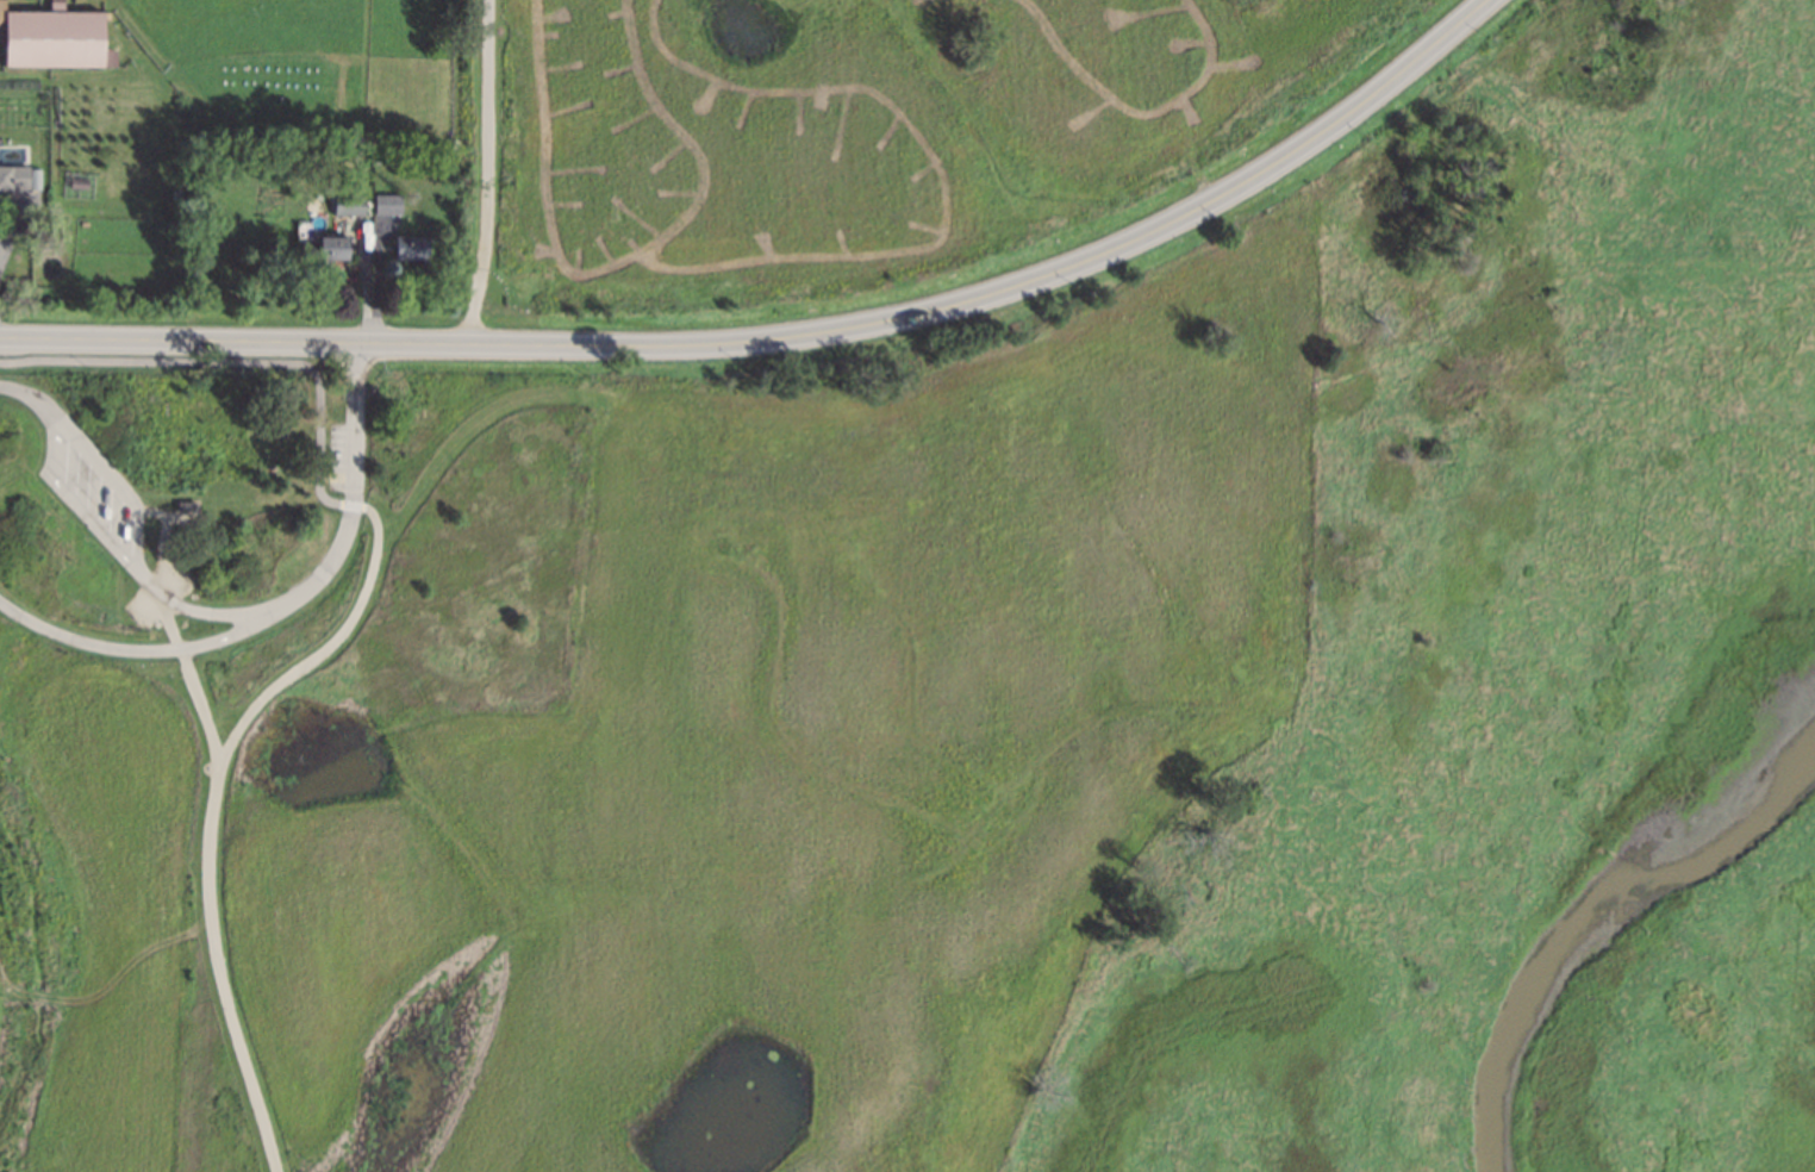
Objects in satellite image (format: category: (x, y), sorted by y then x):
building: (55, 37)
park: (1054, 39)
road: (1439, 98)
road: (489, 173)
building: (20, 177)
building: (388, 204)
road: (7, 235)
building: (412, 247)
building: (335, 248)
road: (790, 338)
road: (238, 361)
road: (468, 423)
parking lot: (337, 457)
road: (356, 491)
parking lot: (94, 492)
road: (223, 615)
road: (332, 643)
road: (206, 880)
river: (1597, 919)

